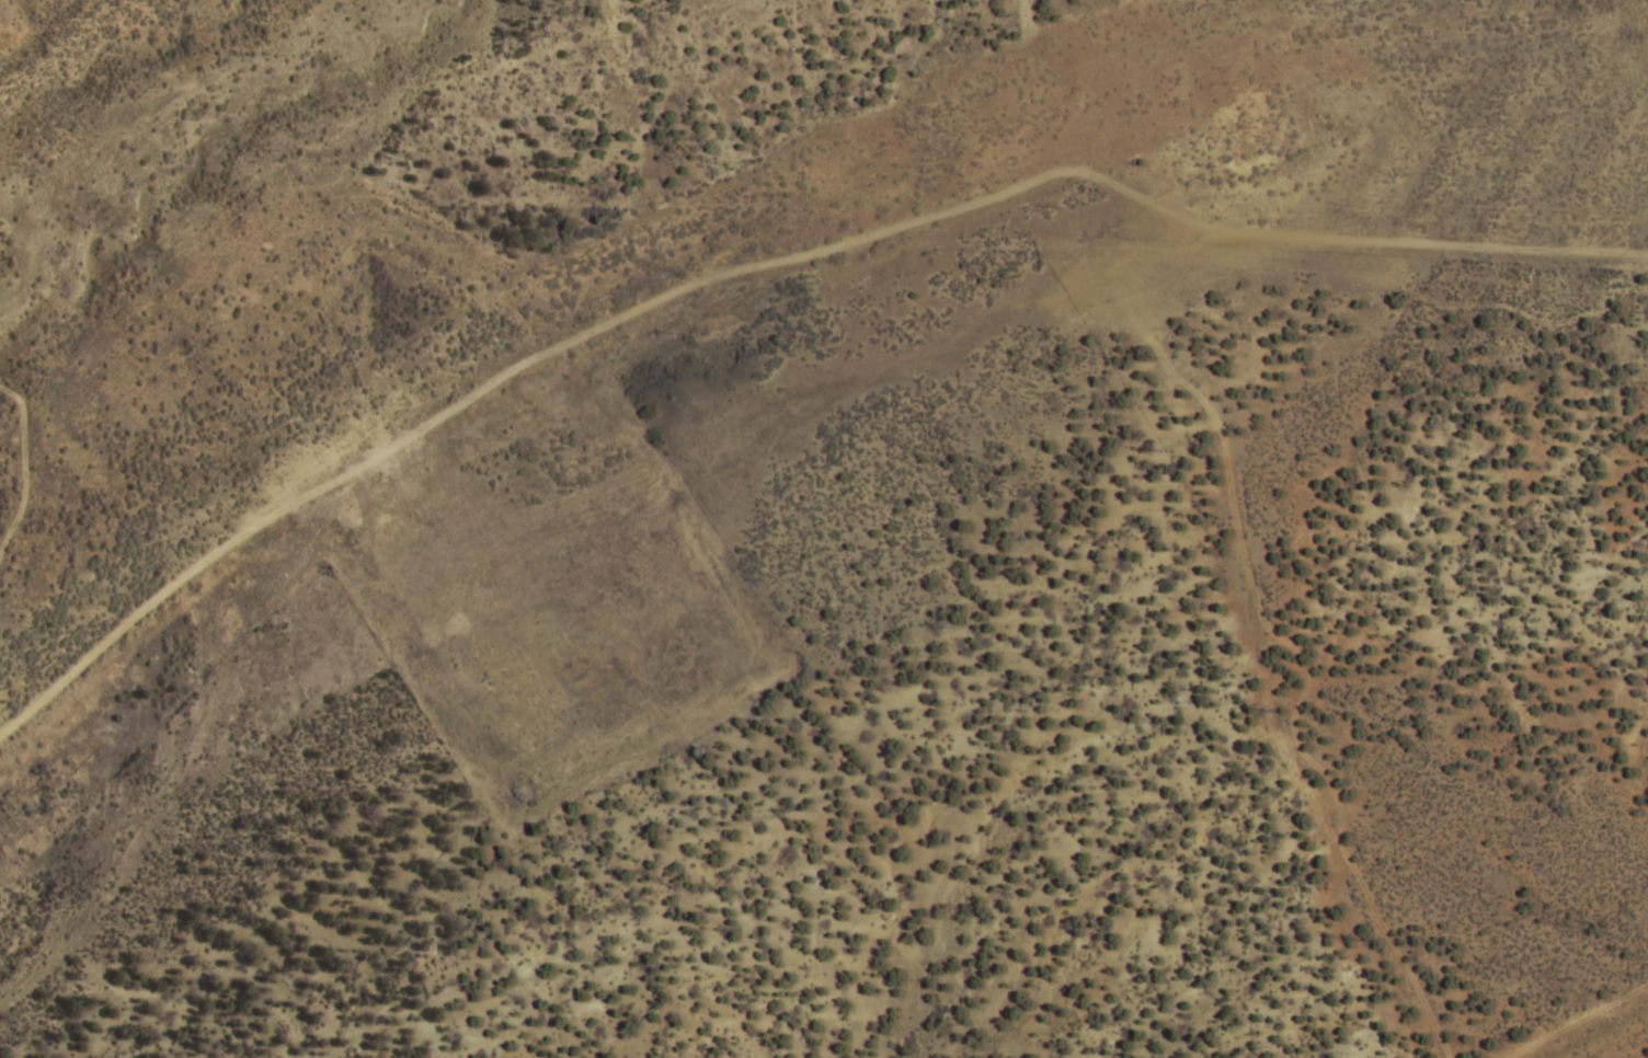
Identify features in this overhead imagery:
road: (978, 115)
road: (680, 285)
road: (90, 622)

